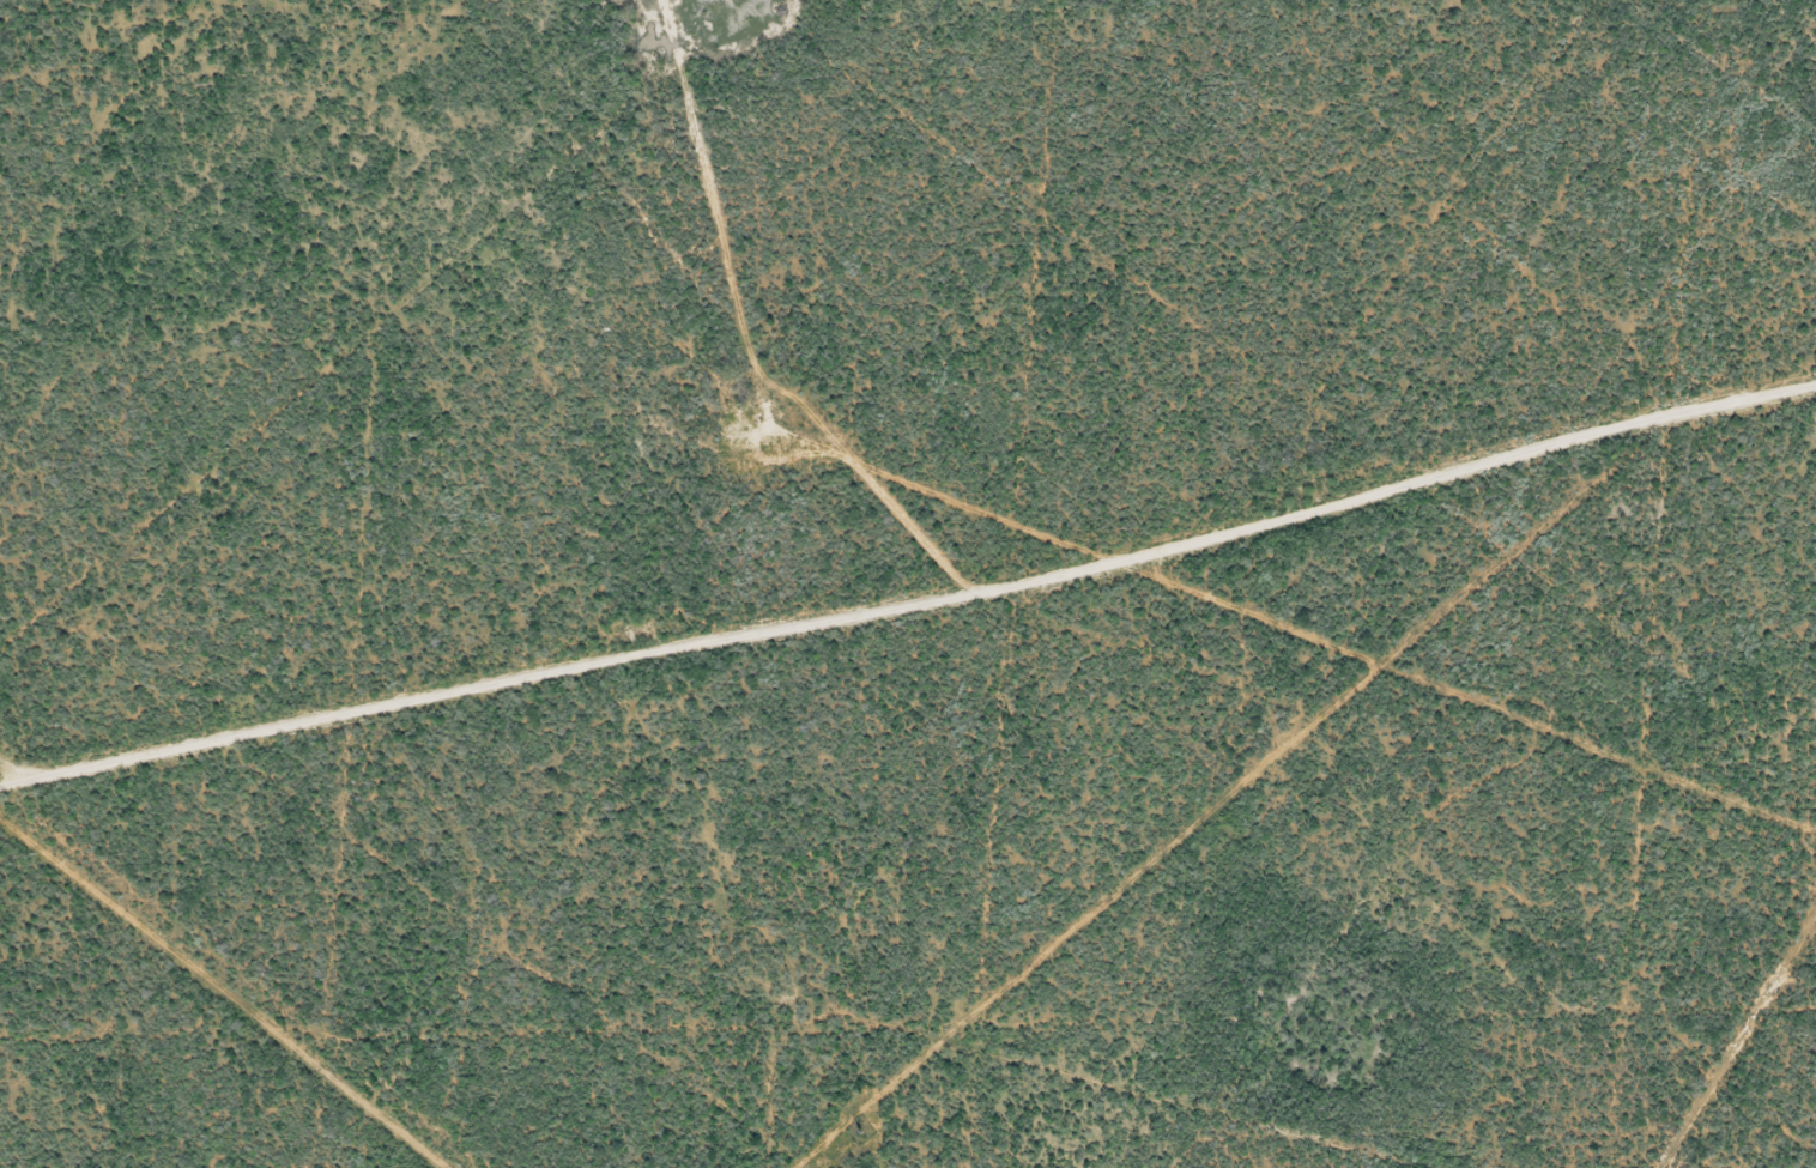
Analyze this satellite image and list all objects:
road: (910, 628)
road: (1067, 1099)

